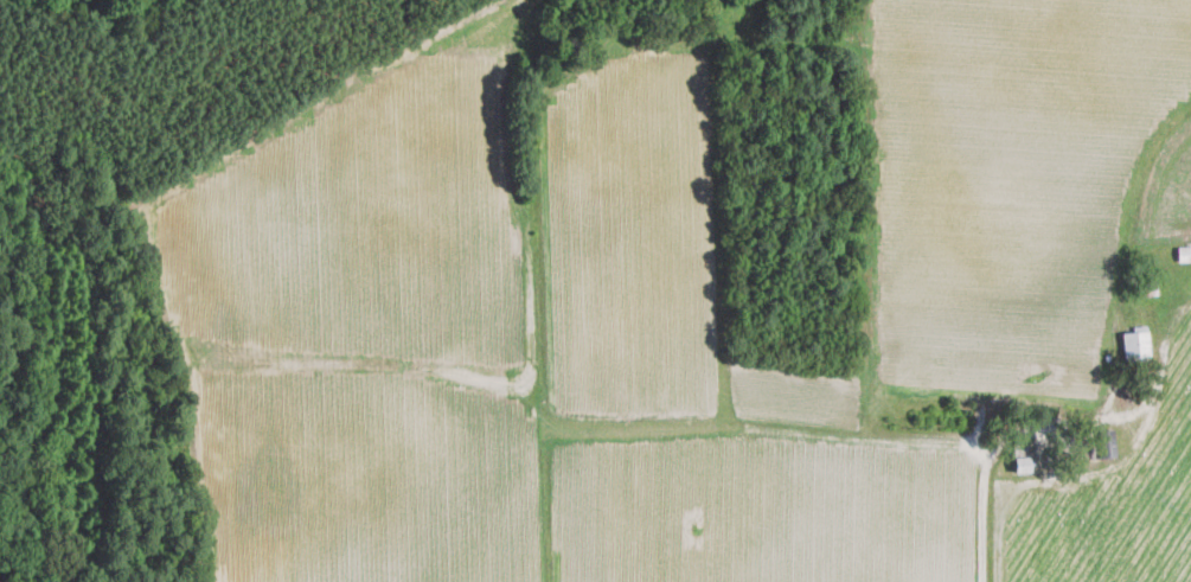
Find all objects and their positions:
building: (1184, 252)
building: (1135, 341)
building: (1104, 443)
road: (988, 454)
building: (1022, 463)

